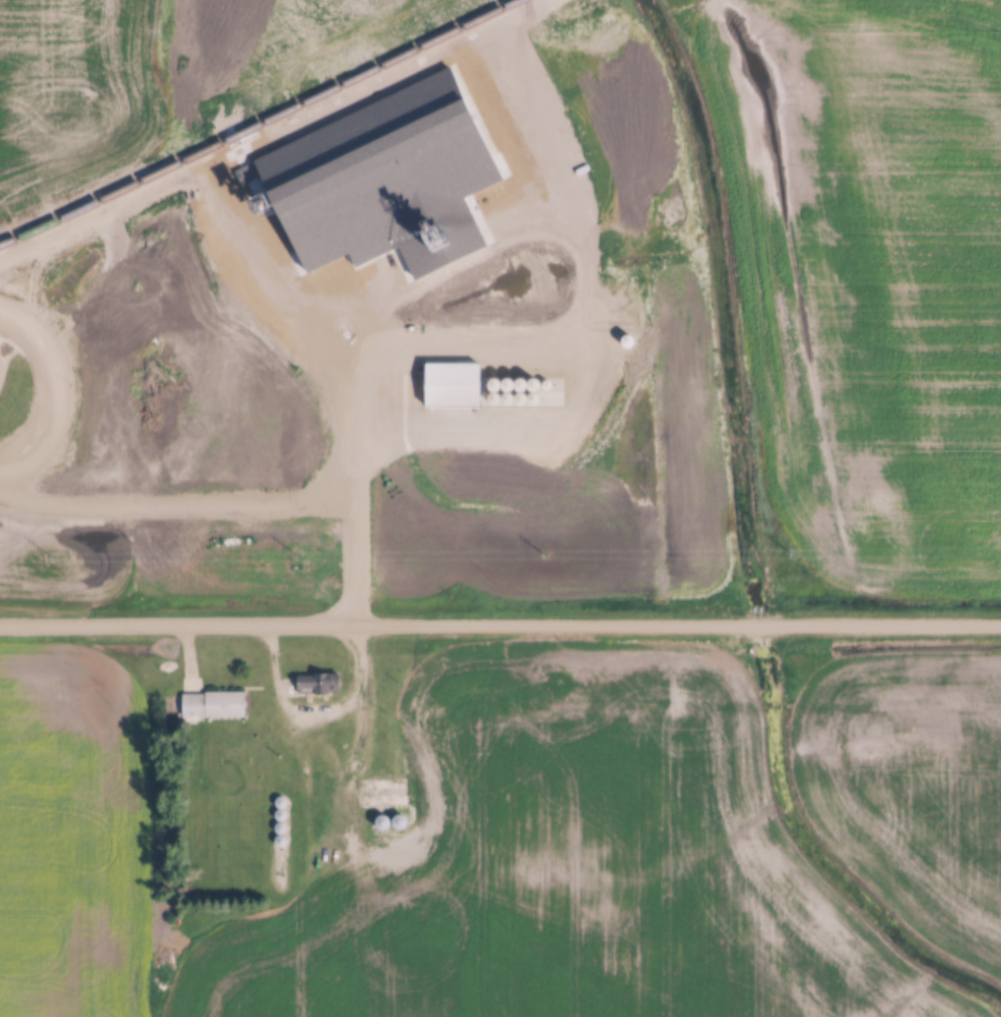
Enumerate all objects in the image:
building: (461, 513)
road: (500, 624)
building: (319, 683)
building: (214, 705)
building: (392, 800)

